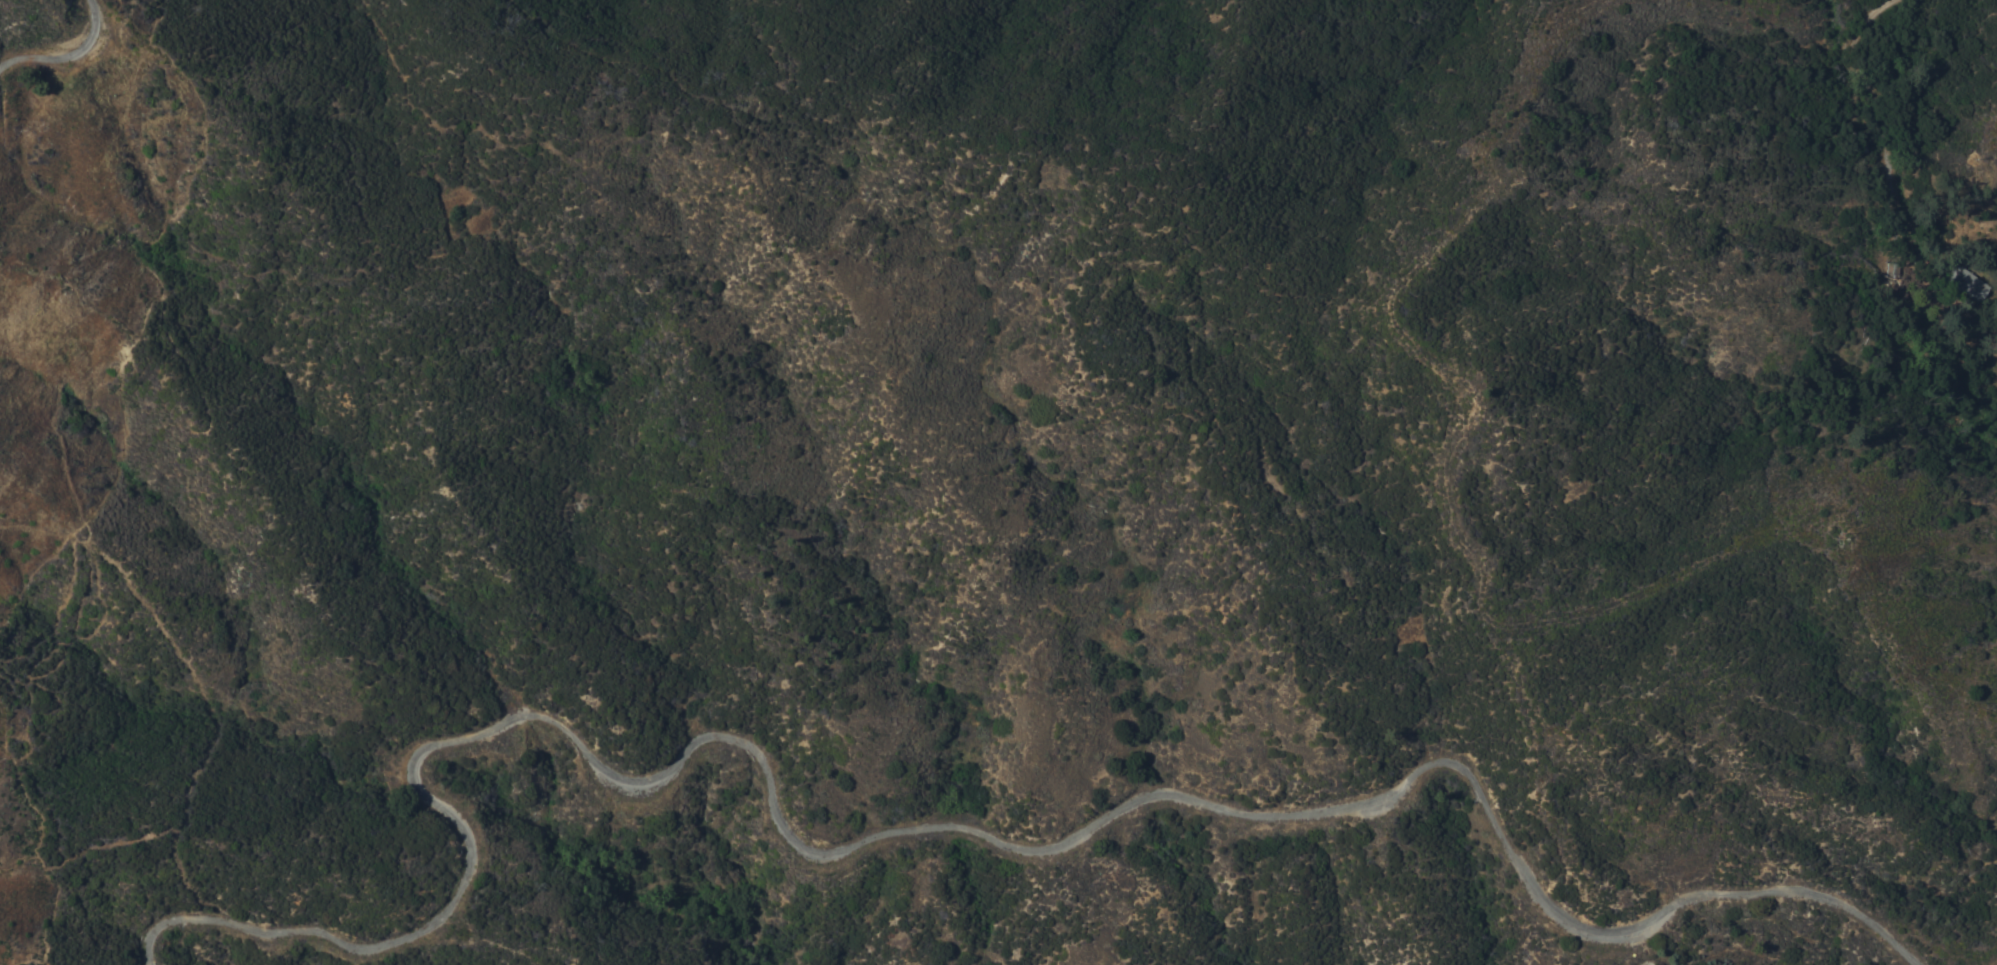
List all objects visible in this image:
road: (68, 59)
road: (353, 181)
road: (1933, 184)
building: (1965, 281)
road: (940, 830)

